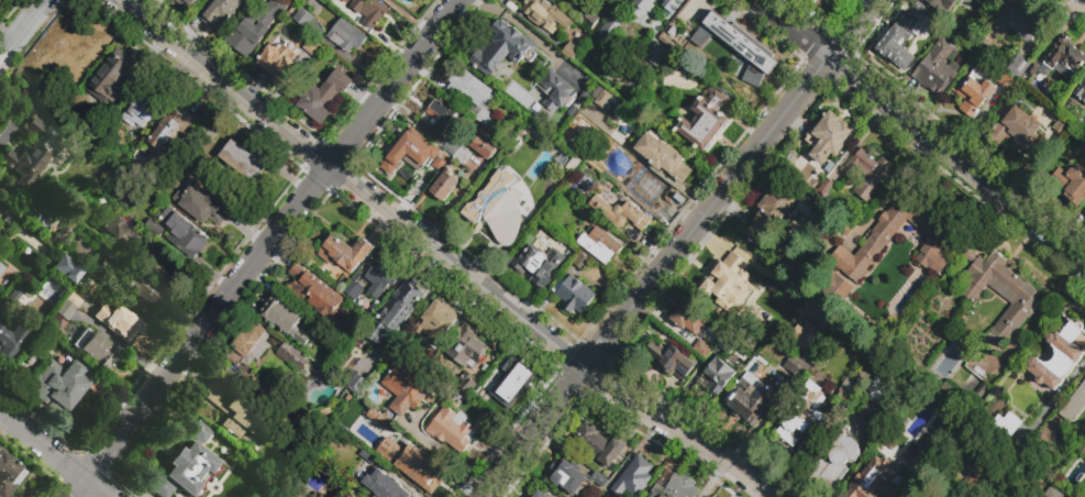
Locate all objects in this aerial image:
building: (563, 0)
building: (822, 0)
building: (963, 0)
building: (305, 1)
building: (191, 2)
road: (1081, 2)
building: (984, 3)
building: (672, 4)
building: (941, 5)
building: (640, 7)
building: (368, 11)
building: (220, 13)
building: (546, 15)
building: (302, 16)
building: (589, 20)
building: (1017, 20)
building: (254, 29)
road: (790, 29)
road: (23, 30)
building: (609, 30)
building: (343, 33)
building: (905, 40)
building: (310, 46)
building: (500, 48)
building: (735, 48)
building: (572, 54)
building: (657, 57)
building: (278, 60)
building: (1059, 60)
building: (1018, 66)
building: (937, 67)
building: (687, 74)
building: (112, 76)
building: (1007, 85)
building: (558, 88)
building: (1081, 92)
building: (322, 95)
building: (474, 95)
building: (974, 95)
building: (146, 103)
building: (114, 109)
building: (441, 114)
building: (704, 122)
building: (60, 123)
building: (1016, 129)
building: (1063, 129)
building: (169, 130)
building: (828, 137)
building: (480, 143)
building: (457, 151)
building: (31, 152)
building: (413, 155)
building: (663, 156)
building: (240, 158)
road: (956, 159)
building: (156, 168)
building: (865, 173)
building: (633, 180)
building: (444, 186)
building: (1075, 186)
building: (824, 192)
building: (121, 194)
building: (594, 199)
road: (450, 202)
building: (203, 206)
building: (498, 207)
building: (772, 210)
building: (589, 217)
building: (622, 220)
building: (119, 225)
building: (846, 231)
building: (185, 233)
road: (1077, 241)
building: (600, 244)
road: (678, 247)
road: (264, 248)
building: (345, 254)
road: (442, 255)
building: (573, 255)
building: (944, 263)
building: (535, 264)
building: (583, 265)
building: (0, 267)
building: (104, 267)
building: (66, 268)
building: (159, 274)
building: (380, 277)
building: (353, 289)
building: (724, 289)
building: (89, 291)
building: (312, 292)
building: (771, 292)
building: (839, 292)
building: (146, 294)
building: (574, 295)
building: (18, 300)
building: (66, 305)
building: (396, 310)
building: (689, 318)
building: (286, 319)
building: (122, 320)
building: (356, 321)
building: (434, 322)
building: (320, 329)
building: (804, 334)
building: (11, 340)
building: (252, 343)
building: (729, 346)
building: (465, 347)
building: (93, 349)
building: (289, 355)
building: (1058, 357)
building: (334, 360)
building: (669, 362)
building: (795, 366)
building: (719, 375)
building: (505, 380)
building: (863, 383)
building: (57, 384)
building: (407, 387)
building: (881, 387)
building: (214, 391)
building: (754, 398)
building: (955, 398)
building: (1074, 404)
building: (897, 405)
building: (801, 416)
building: (239, 417)
building: (368, 423)
building: (1005, 426)
building: (458, 429)
building: (200, 434)
building: (1084, 438)
building: (597, 443)
road: (41, 444)
building: (890, 448)
building: (140, 449)
building: (1081, 450)
building: (367, 456)
road: (444, 457)
building: (832, 460)
building: (189, 467)
building: (420, 470)
building: (9, 474)
building: (565, 477)
building: (633, 477)
road: (711, 478)
building: (873, 478)
building: (599, 479)
building: (159, 486)
building: (385, 486)
road: (96, 487)
building: (678, 488)
building: (300, 493)
building: (540, 494)
building: (353, 495)

